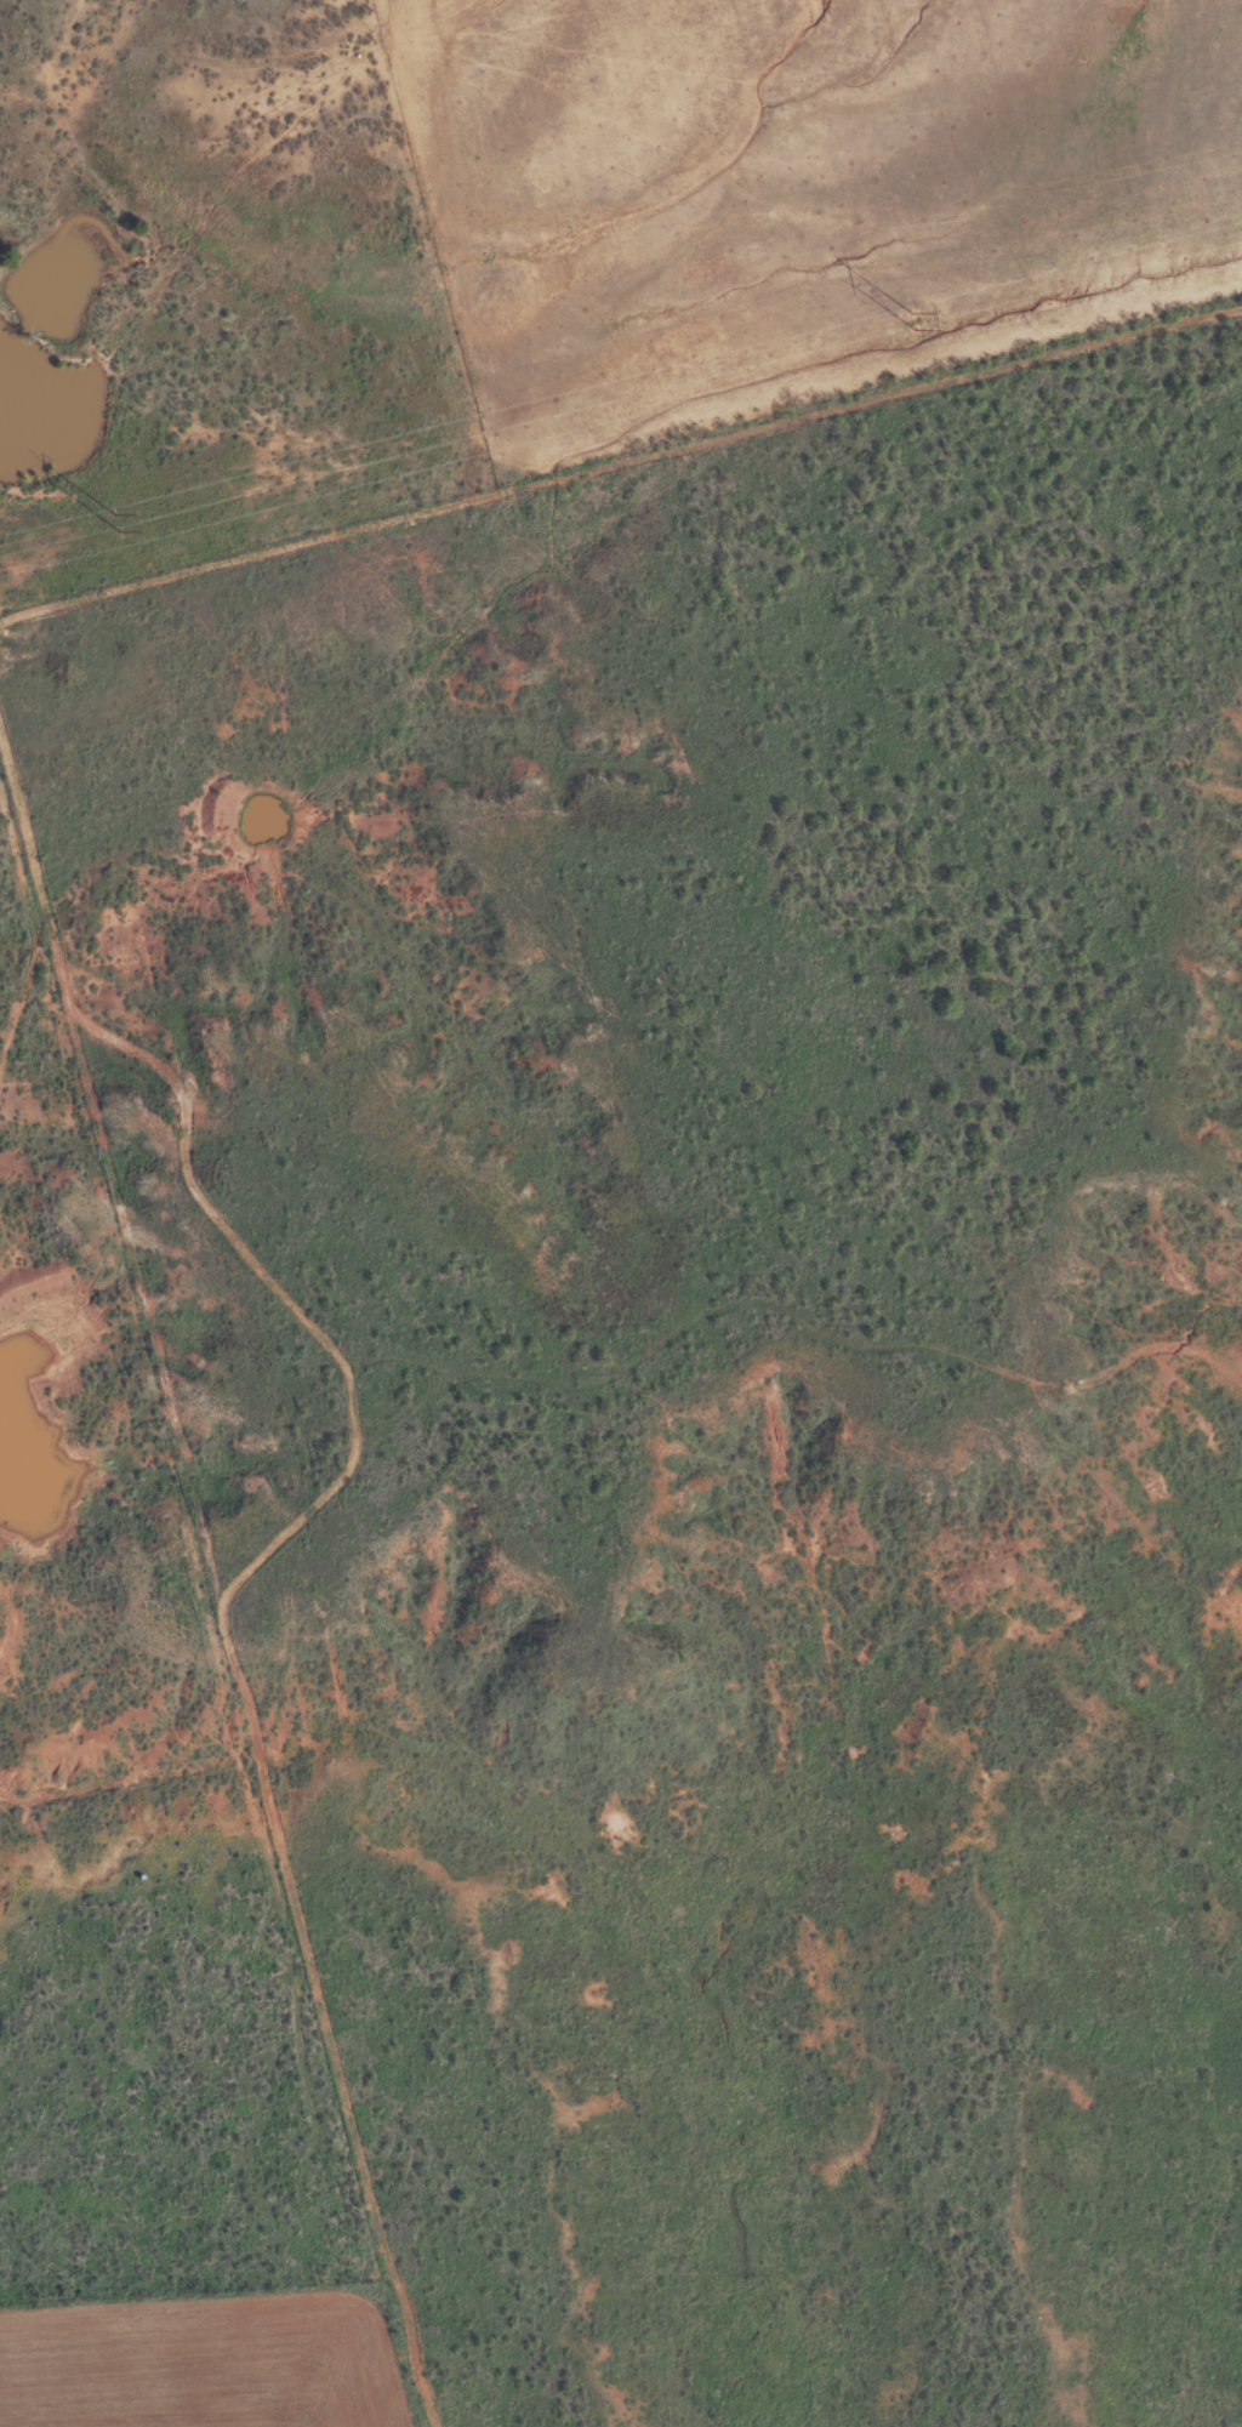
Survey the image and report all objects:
power tower: (912, 320)
power tower: (118, 522)

